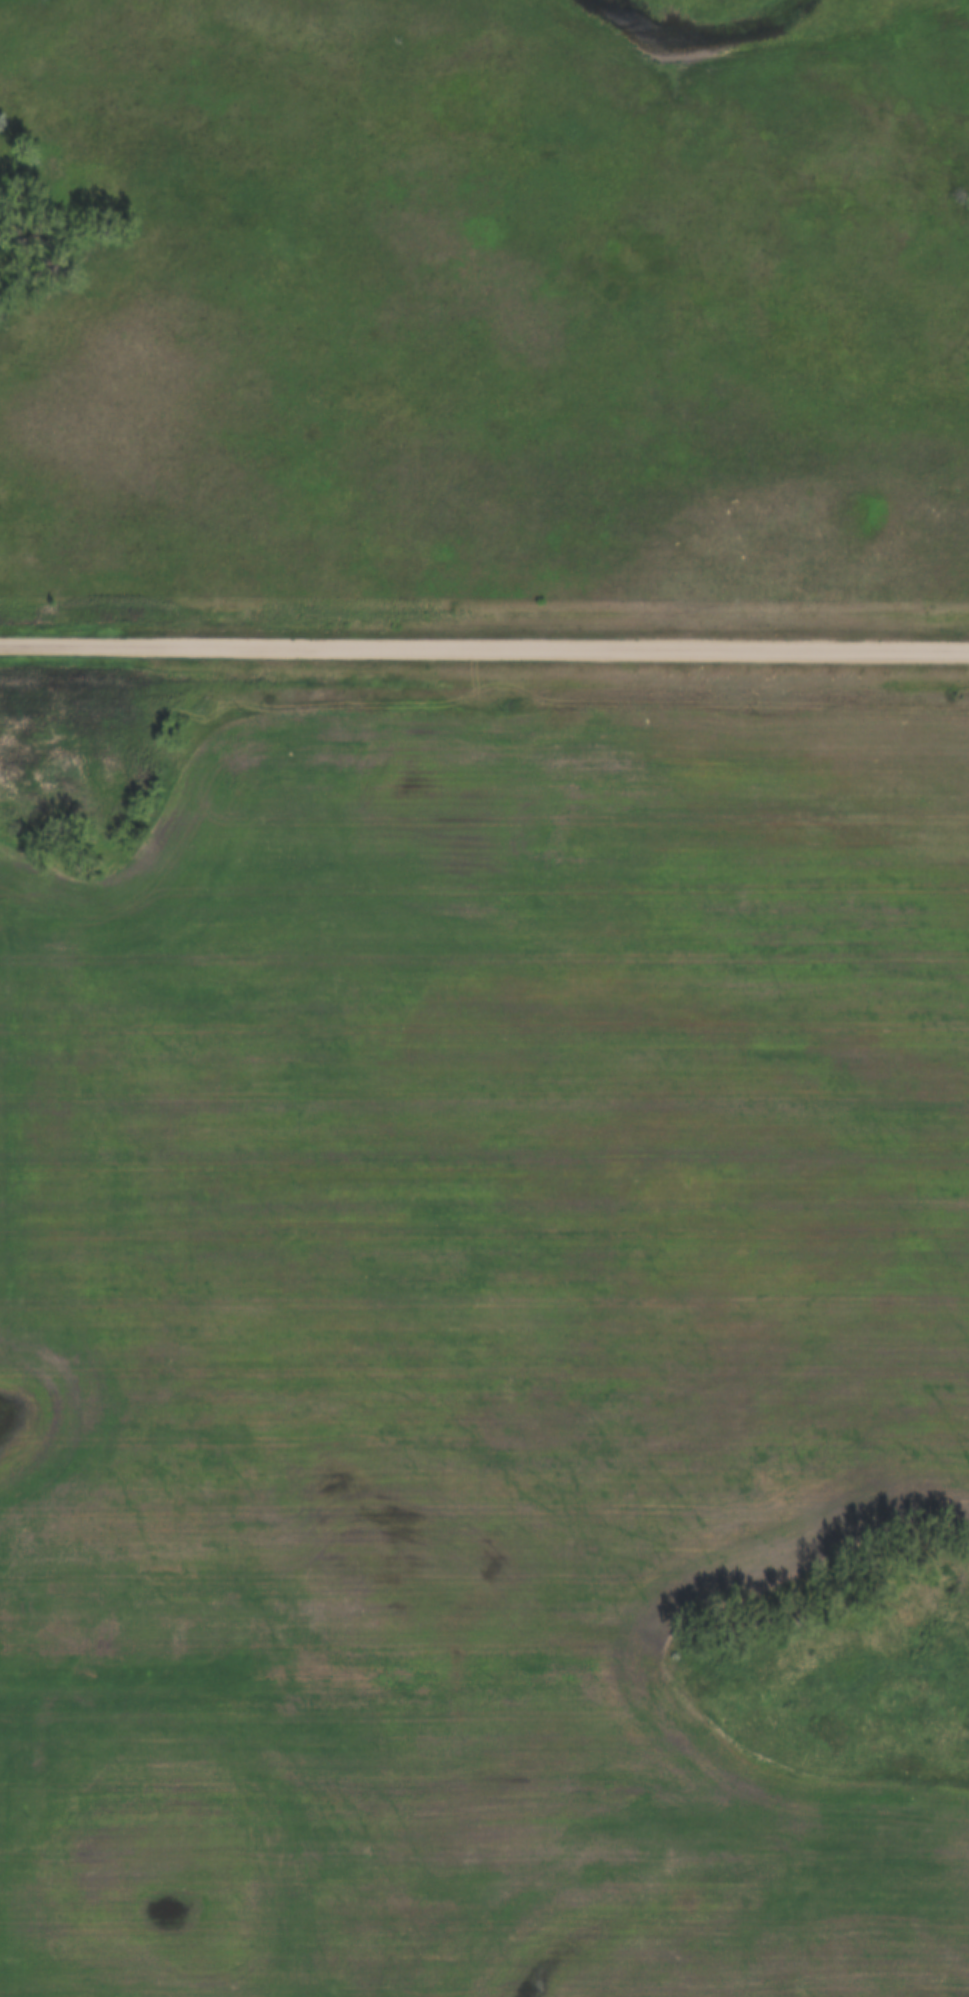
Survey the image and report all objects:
road: (484, 647)

